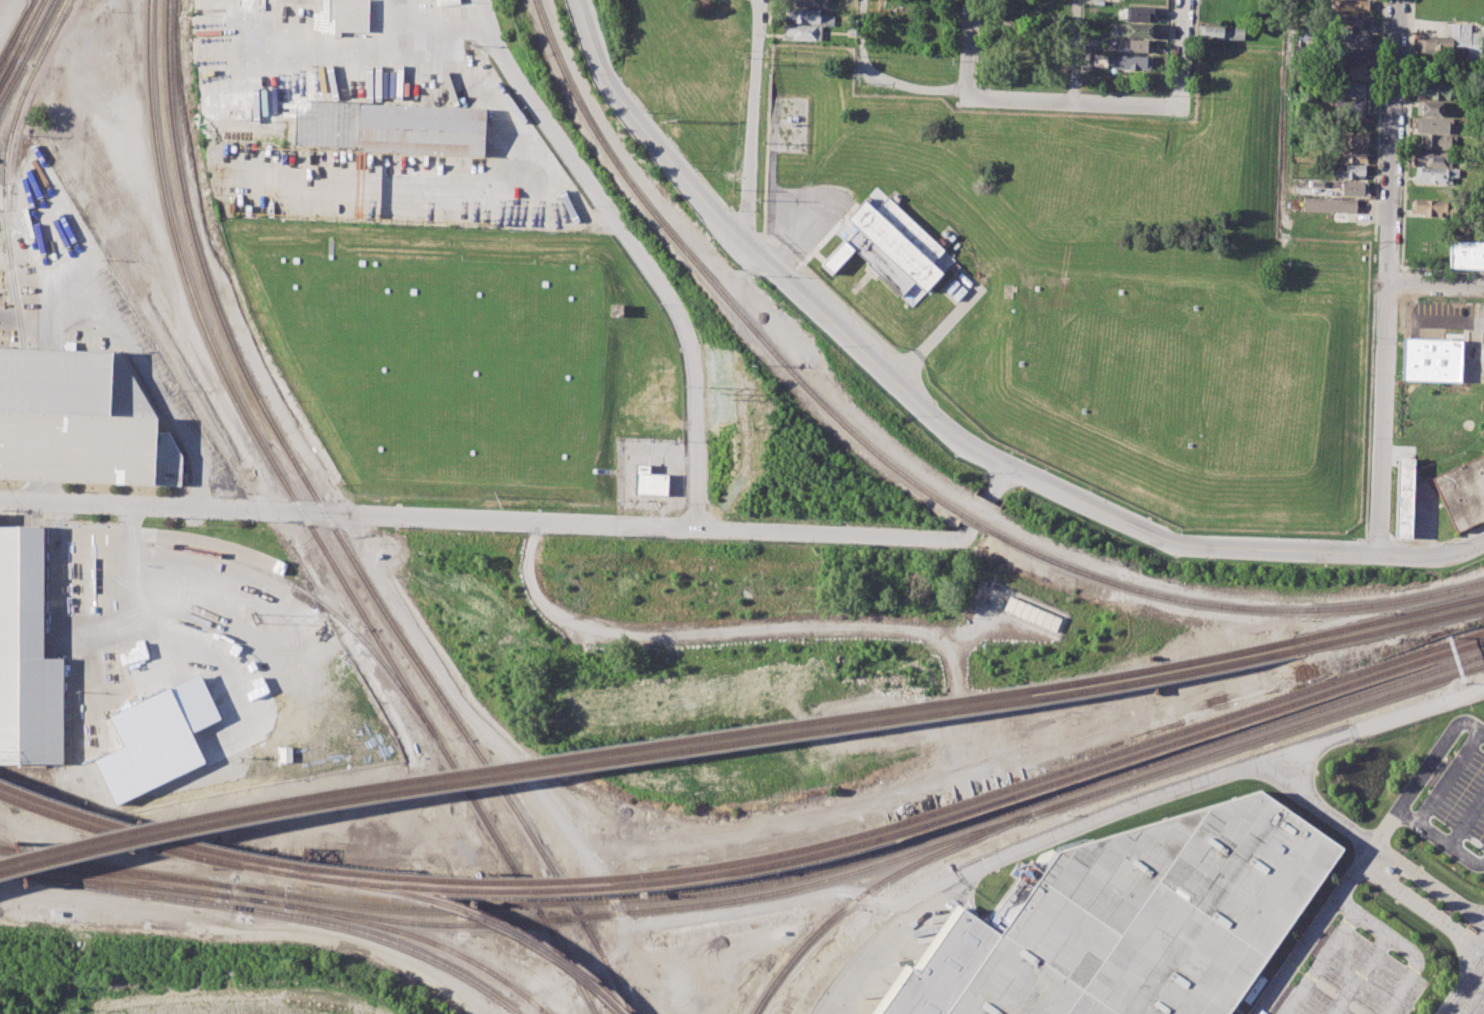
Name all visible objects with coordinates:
building: (446, 2)
building: (808, 2)
building: (245, 3)
building: (1354, 5)
road: (419, 10)
road: (7, 13)
building: (1139, 13)
building: (352, 15)
building: (803, 15)
building: (1355, 22)
railway: (16, 28)
railway: (28, 28)
building: (1463, 29)
building: (1141, 30)
railway: (16, 31)
building: (850, 31)
building: (1221, 31)
building: (803, 32)
building: (1355, 39)
building: (1134, 45)
building: (1434, 45)
railway: (19, 48)
road: (970, 49)
road: (360, 50)
railway: (27, 51)
road: (1074, 51)
road: (1180, 53)
building: (1353, 55)
street lamp: (611, 59)
building: (1132, 62)
railway: (7, 69)
railway: (7, 70)
building: (1354, 71)
road: (899, 83)
building: (1355, 88)
building: (1437, 88)
road: (1070, 101)
building: (1355, 105)
building: (1430, 108)
street lamp: (647, 111)
road: (507, 112)
road: (1285, 118)
power tower: (669, 120)
building: (326, 122)
road: (754, 122)
building: (1434, 125)
building: (421, 130)
road: (645, 133)
building: (1352, 138)
building: (1438, 141)
building: (1350, 154)
building: (1429, 158)
railway: (5, 168)
street lamp: (694, 169)
building: (1350, 171)
building: (1434, 175)
building: (1354, 188)
building: (1329, 205)
building: (1428, 206)
street lamp: (727, 208)
building: (892, 244)
road: (635, 249)
building: (1466, 253)
railway: (184, 267)
railway: (204, 268)
street lamp: (755, 272)
road: (1388, 276)
road: (1436, 290)
building: (616, 309)
road: (935, 335)
street lamp: (836, 345)
road: (133, 348)
building: (1432, 359)
road: (875, 362)
building: (70, 383)
power tower: (721, 395)
street lamp: (909, 414)
building: (78, 447)
building: (167, 460)
street lamp: (985, 472)
railway: (906, 475)
building: (650, 481)
road: (1000, 484)
street lamp: (1089, 489)
building: (1463, 493)
road: (201, 495)
building: (1405, 497)
power tower: (497, 499)
road: (129, 513)
road: (486, 520)
street lamp: (1179, 530)
street lamp: (1276, 535)
street lamp: (1366, 536)
street lamp: (1442, 542)
road: (1240, 550)
road: (129, 556)
railway: (319, 601)
building: (1031, 614)
power tower: (254, 617)
railway: (1391, 617)
railway: (1393, 628)
road: (720, 631)
building: (27, 655)
railway: (1272, 724)
railway: (1186, 729)
railway: (1273, 733)
railway: (1187, 738)
building: (157, 739)
railway: (648, 745)
building: (285, 754)
railway: (650, 755)
railway: (482, 760)
railway: (450, 762)
road: (524, 774)
road: (1449, 778)
road: (1317, 806)
road: (1466, 819)
road: (1422, 827)
road: (1060, 834)
railway: (143, 843)
railway: (32, 854)
road: (1362, 855)
road: (1465, 856)
railway: (1, 862)
railway: (114, 868)
railway: (8, 872)
railway: (115, 874)
railway: (114, 879)
railway: (441, 881)
road: (1427, 882)
railway: (876, 884)
railway: (121, 885)
railway: (594, 889)
railway: (650, 898)
road: (803, 898)
road: (1419, 907)
railway: (650, 910)
railway: (471, 912)
railway: (277, 913)
building: (1153, 916)
road: (248, 925)
railway: (424, 940)
road: (1402, 945)
road: (1318, 963)
building: (942, 969)
road: (1360, 975)
parking lot: (1353, 979)
street lamp: (1450, 992)
road: (1475, 1001)

